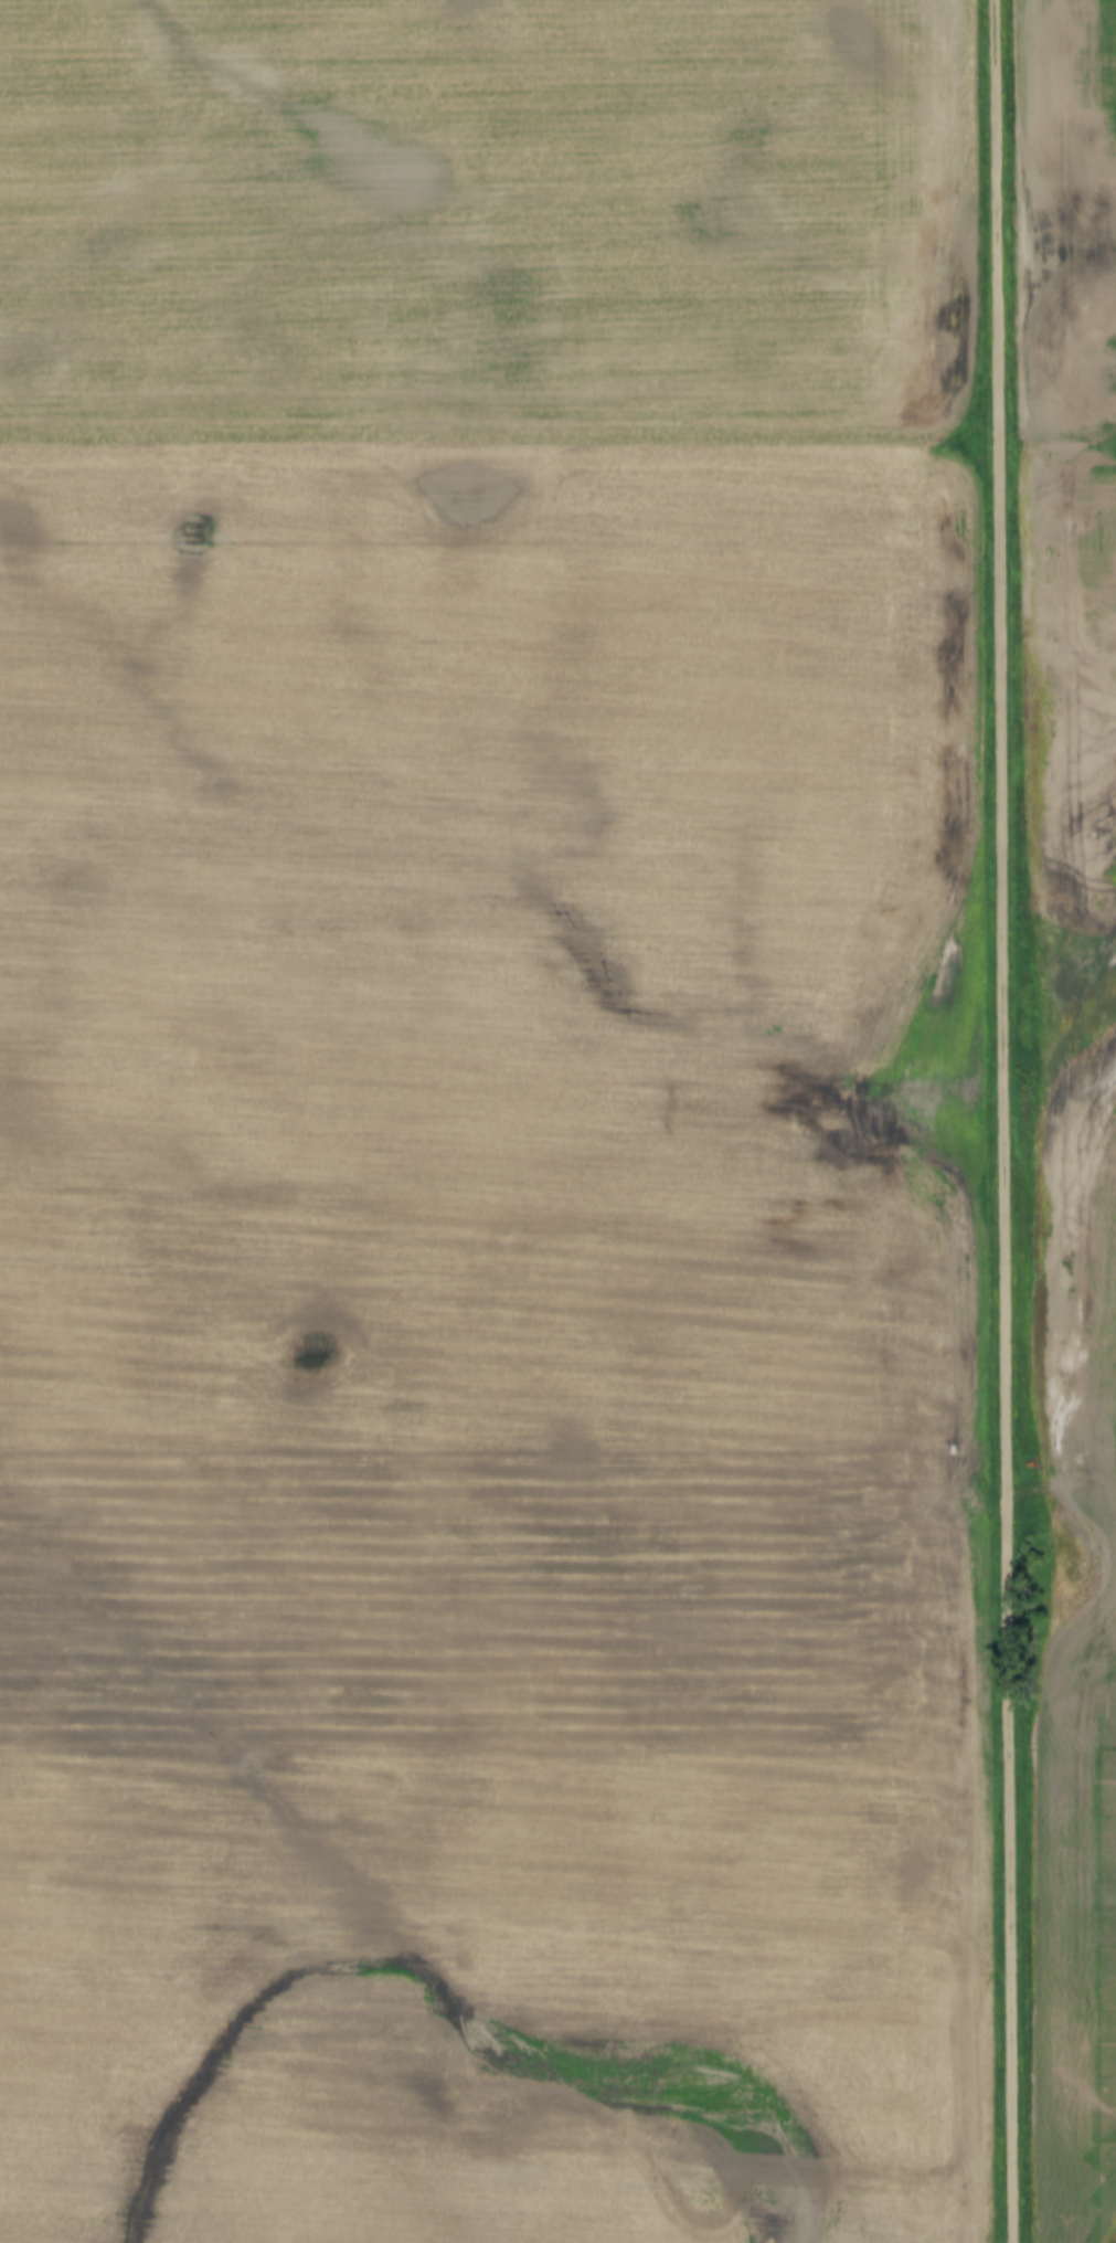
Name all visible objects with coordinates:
road: (1006, 1121)

